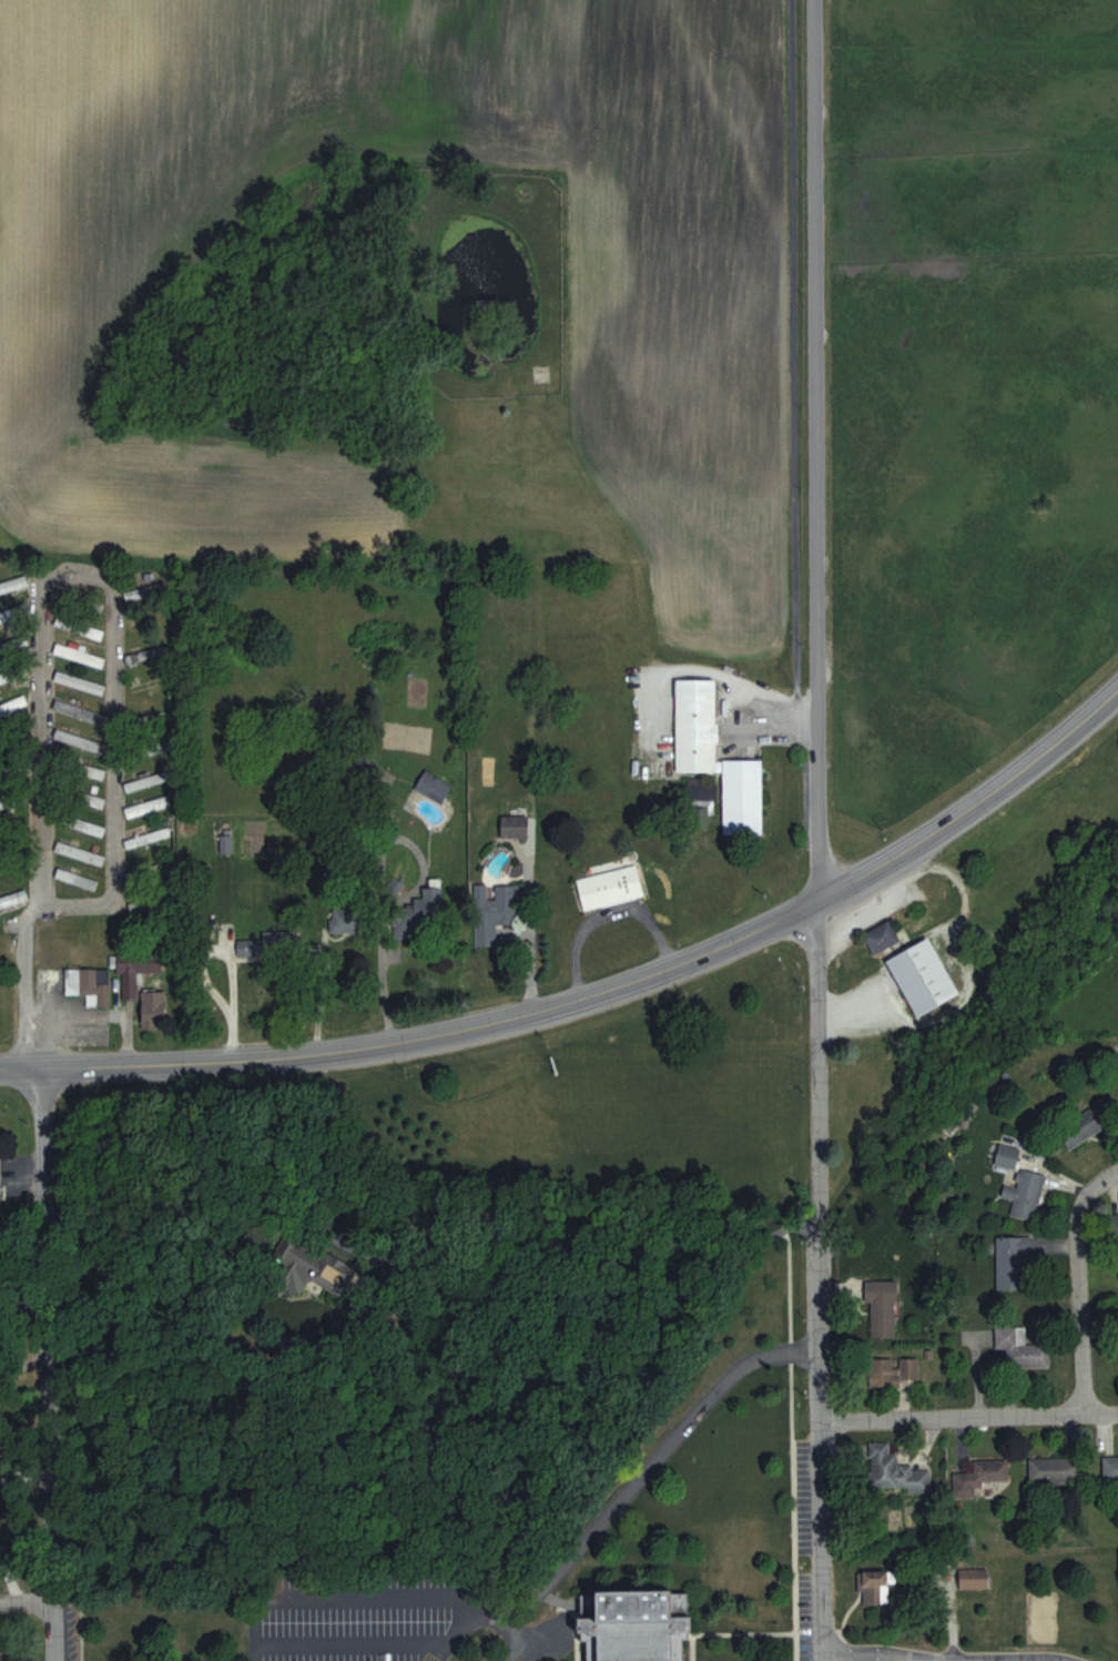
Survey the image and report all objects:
road: (815, 452)
building: (13, 584)
road: (59, 584)
building: (146, 591)
building: (11, 614)
building: (13, 644)
building: (80, 655)
building: (146, 655)
building: (8, 675)
building: (80, 681)
building: (12, 705)
road: (780, 711)
building: (697, 723)
building: (91, 770)
building: (434, 786)
building: (702, 793)
building: (743, 796)
building: (88, 798)
road: (973, 803)
building: (82, 823)
building: (515, 824)
building: (149, 837)
building: (80, 852)
building: (2, 864)
building: (148, 871)
building: (77, 878)
building: (612, 885)
building: (13, 898)
building: (491, 911)
building: (125, 915)
building: (418, 916)
road: (606, 920)
road: (525, 936)
building: (882, 936)
building: (267, 944)
building: (136, 968)
building: (924, 975)
building: (90, 983)
road: (24, 986)
road: (385, 988)
road: (321, 995)
road: (420, 1045)
building: (1087, 1122)
building: (1007, 1155)
building: (1026, 1193)
building: (1115, 1226)
road: (449, 1255)
building: (1014, 1262)
building: (295, 1275)
road: (819, 1282)
road: (1078, 1287)
building: (883, 1308)
building: (1022, 1347)
road: (48, 1366)
building: (893, 1371)
road: (968, 1418)
road: (790, 1446)
building: (1110, 1468)
building: (1055, 1469)
building: (895, 1470)
building: (980, 1476)
road: (647, 1478)
building: (974, 1578)
building: (875, 1586)
road: (27, 1606)
parking lot: (369, 1616)
building: (638, 1625)
road: (730, 1638)
building: (1, 1655)
road: (576, 1657)
road: (848, 1659)
road: (909, 1659)
road: (923, 1660)

